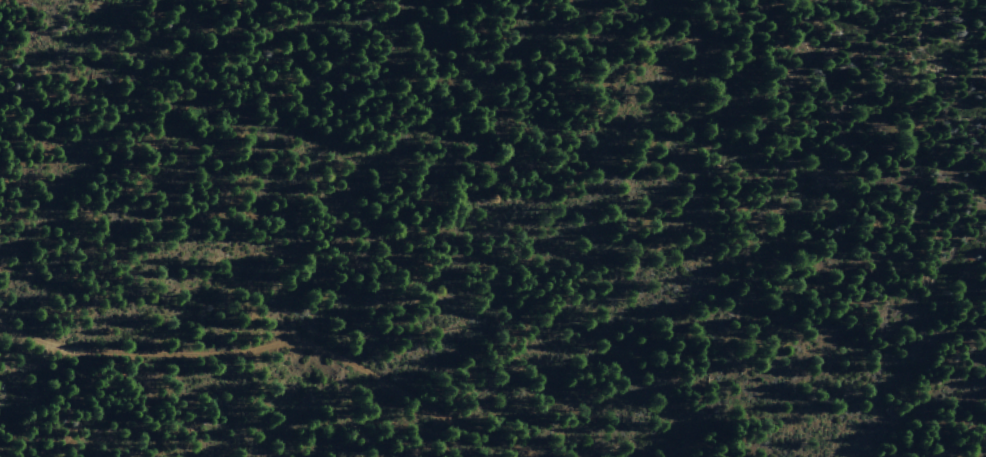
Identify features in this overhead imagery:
road: (272, 346)

